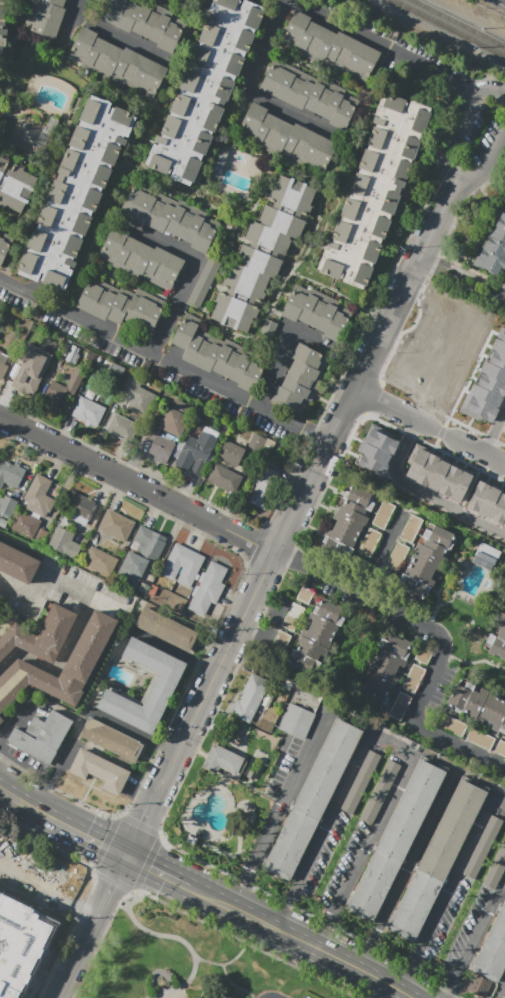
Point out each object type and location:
building: (44, 17)
building: (143, 23)
railway: (458, 23)
railway: (448, 27)
building: (2, 31)
road: (110, 31)
road: (384, 45)
building: (329, 46)
building: (116, 63)
building: (205, 88)
road: (491, 89)
road: (244, 90)
building: (309, 94)
road: (455, 134)
building: (36, 137)
building: (286, 139)
road: (486, 165)
building: (15, 184)
building: (374, 190)
building: (76, 191)
building: (171, 217)
building: (0, 228)
building: (4, 245)
building: (493, 247)
building: (262, 255)
building: (140, 259)
road: (192, 272)
road: (463, 277)
building: (204, 282)
road: (502, 289)
building: (118, 305)
building: (317, 312)
building: (266, 331)
building: (501, 334)
building: (498, 346)
road: (282, 350)
building: (215, 354)
building: (72, 355)
building: (496, 358)
road: (165, 360)
parking lot: (149, 363)
building: (3, 364)
building: (33, 366)
road: (366, 368)
building: (115, 370)
building: (493, 371)
building: (300, 379)
building: (490, 384)
building: (64, 388)
building: (137, 396)
building: (485, 396)
building: (477, 408)
building: (86, 410)
road: (430, 426)
road: (104, 428)
building: (121, 428)
building: (172, 429)
road: (494, 431)
building: (503, 431)
building: (504, 434)
building: (380, 437)
building: (259, 443)
building: (374, 451)
building: (195, 452)
building: (231, 453)
building: (416, 463)
building: (370, 465)
building: (427, 469)
building: (10, 474)
building: (438, 475)
building: (224, 477)
building: (448, 480)
road: (137, 484)
building: (460, 486)
building: (266, 487)
road: (63, 492)
road: (422, 492)
building: (39, 496)
building: (477, 496)
building: (358, 497)
building: (490, 502)
building: (7, 507)
building: (79, 507)
building: (499, 509)
building: (353, 512)
building: (382, 514)
building: (3, 523)
building: (347, 524)
building: (116, 525)
building: (29, 526)
building: (411, 529)
building: (341, 536)
building: (148, 543)
building: (370, 543)
building: (64, 544)
building: (336, 545)
building: (397, 556)
building: (486, 556)
building: (426, 558)
building: (175, 560)
building: (100, 561)
building: (17, 563)
building: (190, 568)
building: (131, 570)
road: (50, 575)
building: (213, 577)
building: (304, 595)
building: (202, 599)
building: (329, 612)
building: (293, 617)
building: (322, 624)
building: (166, 629)
building: (40, 635)
building: (316, 636)
building: (281, 639)
building: (498, 639)
road: (441, 640)
building: (311, 649)
road: (174, 650)
building: (422, 655)
building: (304, 662)
road: (60, 664)
building: (79, 666)
road: (220, 666)
building: (381, 671)
building: (413, 678)
building: (166, 680)
building: (250, 699)
building: (479, 703)
building: (399, 706)
road: (84, 714)
building: (1, 720)
road: (15, 720)
building: (296, 721)
building: (450, 725)
building: (41, 737)
building: (111, 739)
building: (480, 739)
road: (390, 740)
building: (500, 748)
road: (8, 752)
road: (305, 758)
building: (224, 762)
building: (98, 770)
building: (360, 782)
building: (380, 791)
road: (139, 793)
road: (10, 795)
road: (500, 797)
building: (312, 799)
road: (43, 812)
road: (146, 816)
road: (329, 817)
road: (370, 837)
road: (97, 838)
building: (397, 839)
building: (483, 847)
traffic signals: (128, 854)
road: (257, 856)
road: (411, 859)
building: (437, 860)
building: (496, 868)
road: (161, 870)
road: (452, 880)
road: (112, 886)
road: (48, 893)
road: (214, 897)
road: (284, 917)
road: (255, 918)
road: (166, 936)
road: (323, 936)
road: (477, 937)
building: (22, 945)
road: (362, 956)
road: (76, 958)
road: (237, 958)
building: (490, 958)
park: (181, 959)
road: (345, 962)
road: (403, 977)
road: (236, 986)
road: (501, 991)
road: (390, 992)
road: (449, 995)
building: (223, 996)
road: (271, 997)
parking lot: (307, 997)

